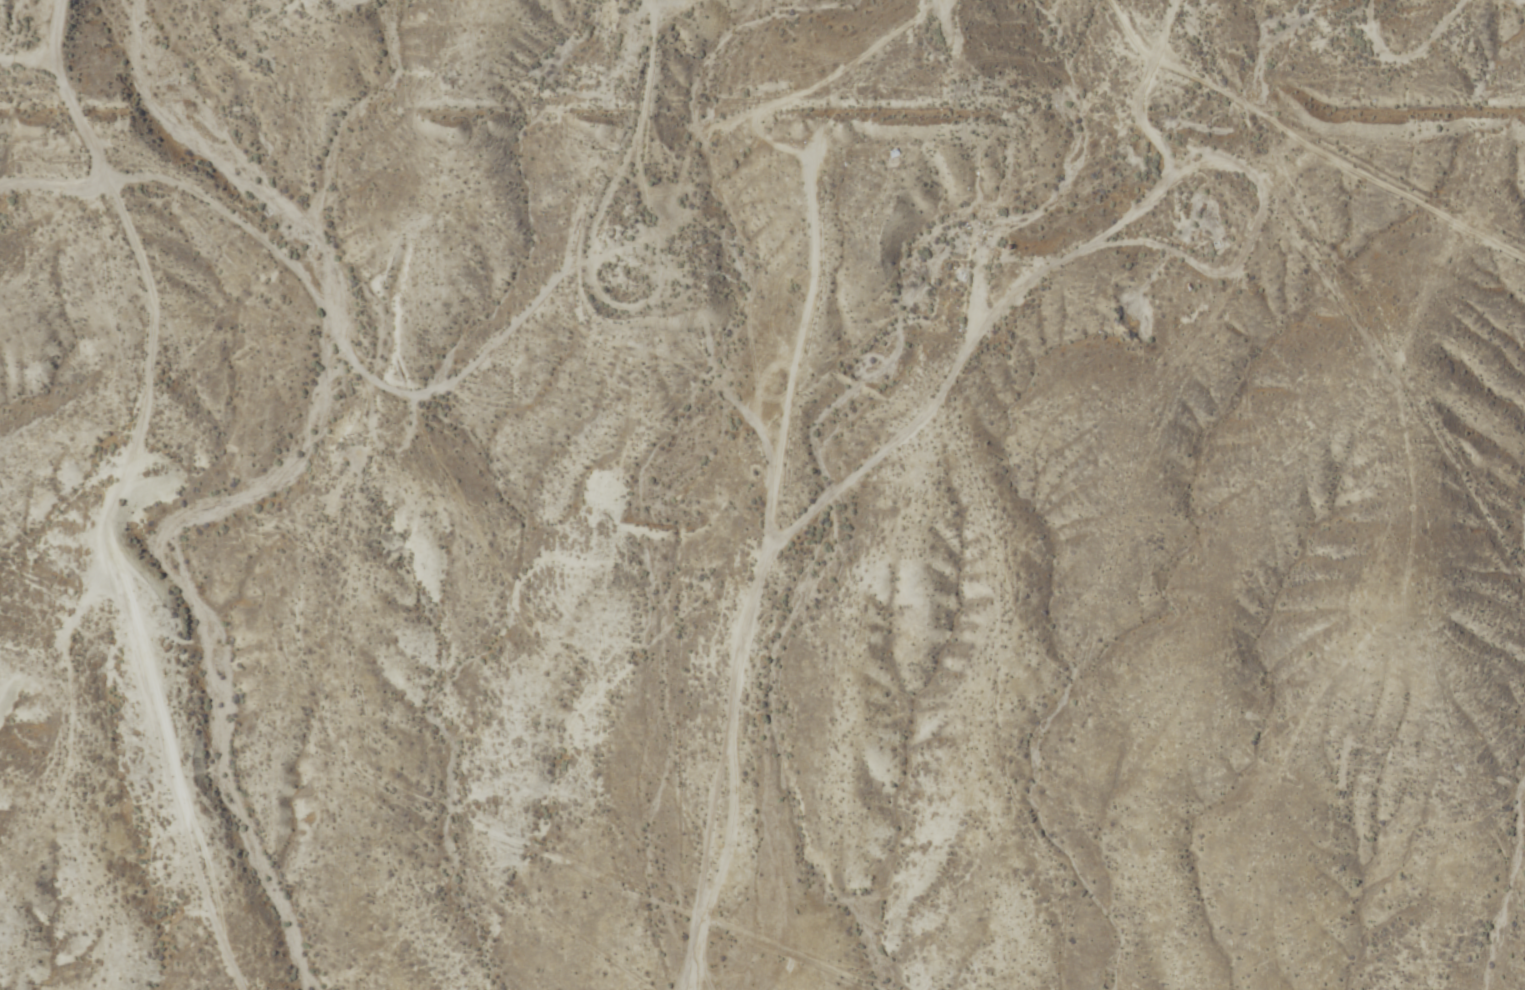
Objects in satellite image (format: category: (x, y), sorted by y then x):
road: (1477, 6)
road: (73, 12)

